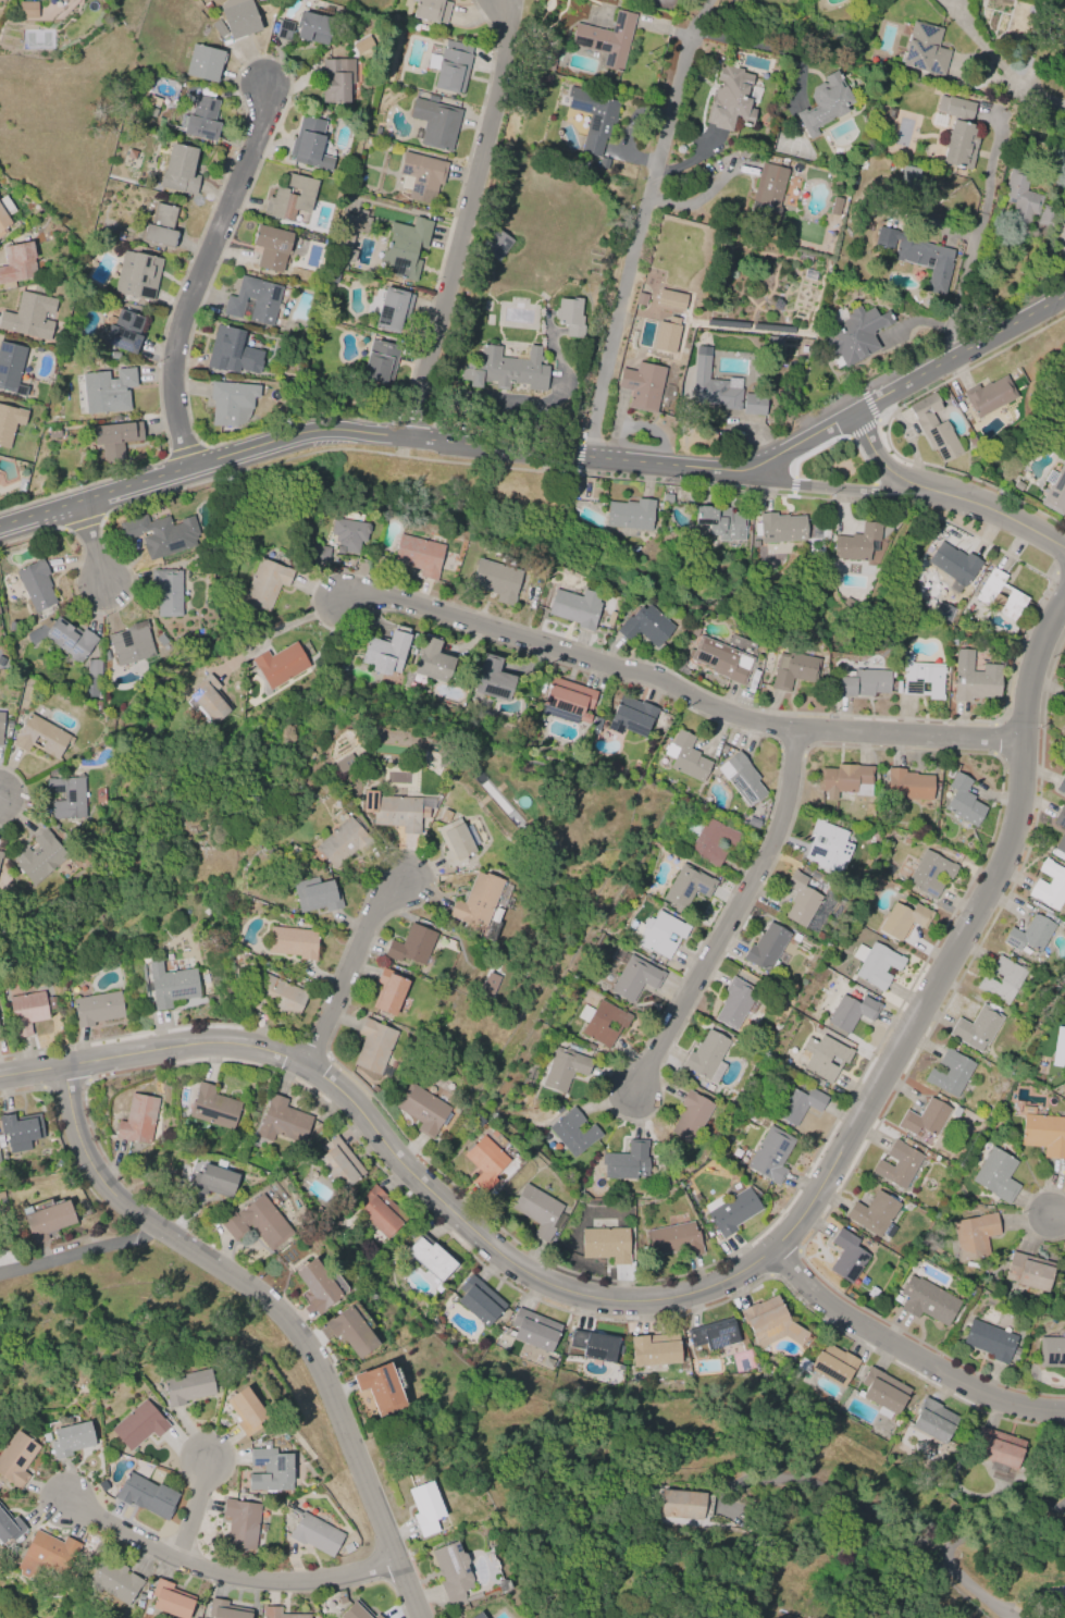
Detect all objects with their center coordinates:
building: (27, 9)
building: (431, 10)
building: (238, 17)
building: (313, 27)
building: (284, 29)
building: (1062, 35)
building: (606, 39)
road: (980, 44)
road: (770, 50)
building: (925, 50)
building: (203, 62)
building: (451, 66)
building: (337, 79)
road: (1038, 94)
building: (730, 98)
building: (153, 100)
building: (825, 103)
building: (955, 108)
building: (889, 113)
building: (593, 116)
building: (201, 119)
building: (435, 123)
building: (309, 145)
building: (958, 146)
building: (604, 163)
building: (179, 170)
building: (421, 176)
building: (767, 190)
building: (290, 197)
building: (1019, 201)
building: (4, 213)
building: (1045, 215)
road: (468, 222)
building: (160, 225)
road: (645, 230)
building: (351, 234)
building: (495, 245)
building: (271, 247)
building: (405, 248)
road: (968, 249)
building: (918, 255)
building: (16, 264)
building: (137, 274)
road: (198, 274)
building: (640, 299)
building: (253, 301)
building: (670, 301)
building: (393, 310)
building: (29, 316)
building: (570, 317)
building: (123, 331)
building: (853, 333)
building: (666, 335)
building: (232, 351)
building: (379, 363)
building: (11, 368)
building: (506, 369)
building: (711, 384)
building: (642, 386)
building: (103, 391)
building: (989, 396)
building: (231, 403)
building: (754, 405)
building: (9, 423)
building: (933, 428)
building: (1063, 433)
building: (113, 439)
road: (545, 459)
road: (901, 475)
road: (864, 489)
building: (1055, 490)
building: (667, 498)
building: (630, 516)
building: (720, 521)
road: (1019, 523)
building: (780, 528)
building: (160, 534)
building: (348, 534)
building: (857, 543)
road: (92, 545)
building: (320, 554)
building: (418, 555)
building: (953, 563)
building: (495, 580)
building: (265, 584)
building: (36, 585)
building: (166, 592)
building: (1000, 595)
building: (575, 607)
building: (610, 618)
building: (644, 626)
road: (280, 629)
building: (63, 637)
building: (132, 643)
building: (384, 653)
building: (432, 659)
building: (721, 659)
building: (281, 665)
building: (793, 669)
building: (92, 677)
building: (492, 678)
building: (921, 678)
building: (974, 678)
building: (753, 681)
building: (863, 683)
road: (681, 690)
building: (569, 699)
building: (210, 700)
building: (1064, 703)
building: (630, 716)
building: (1, 725)
building: (1064, 732)
building: (40, 736)
building: (685, 756)
building: (345, 765)
building: (740, 777)
building: (845, 780)
building: (907, 785)
building: (1061, 786)
road: (0, 798)
building: (67, 798)
building: (963, 801)
building: (395, 811)
building: (753, 823)
building: (1061, 838)
building: (710, 840)
building: (457, 841)
building: (339, 843)
building: (827, 847)
building: (1, 854)
building: (39, 857)
building: (929, 874)
building: (1050, 885)
building: (686, 886)
building: (315, 894)
building: (800, 900)
building: (475, 903)
road: (729, 917)
building: (903, 919)
building: (660, 934)
building: (1029, 936)
building: (293, 941)
building: (412, 946)
building: (766, 947)
building: (876, 963)
road: (350, 967)
building: (635, 977)
building: (1003, 980)
building: (171, 984)
building: (488, 985)
building: (388, 991)
building: (277, 997)
building: (733, 1003)
building: (97, 1009)
building: (25, 1011)
building: (851, 1012)
building: (602, 1022)
building: (976, 1028)
building: (373, 1046)
building: (1058, 1048)
building: (707, 1057)
building: (825, 1057)
building: (565, 1069)
building: (950, 1073)
building: (798, 1104)
building: (212, 1108)
building: (423, 1109)
building: (690, 1115)
building: (924, 1117)
building: (138, 1119)
building: (282, 1121)
building: (20, 1131)
building: (572, 1132)
building: (1044, 1135)
building: (771, 1154)
building: (626, 1161)
building: (485, 1162)
building: (897, 1163)
building: (337, 1164)
building: (995, 1174)
building: (212, 1181)
building: (537, 1210)
building: (731, 1211)
building: (381, 1212)
building: (875, 1213)
road: (1057, 1218)
building: (46, 1220)
building: (257, 1222)
building: (974, 1236)
building: (673, 1239)
building: (606, 1244)
road: (78, 1250)
building: (846, 1257)
building: (430, 1259)
building: (1028, 1271)
building: (317, 1285)
road: (708, 1292)
building: (927, 1300)
building: (479, 1301)
road: (277, 1310)
building: (771, 1323)
building: (534, 1330)
building: (351, 1332)
building: (714, 1334)
building: (989, 1341)
building: (594, 1345)
building: (654, 1349)
building: (1052, 1351)
road: (909, 1356)
building: (827, 1364)
building: (379, 1385)
building: (186, 1386)
building: (882, 1392)
building: (366, 1399)
building: (245, 1410)
building: (933, 1420)
building: (138, 1425)
building: (71, 1438)
building: (999, 1453)
building: (15, 1458)
building: (269, 1470)
road: (832, 1493)
building: (146, 1495)
road: (194, 1500)
building: (685, 1504)
building: (425, 1508)
building: (240, 1523)
building: (9, 1527)
road: (993, 1528)
building: (314, 1533)
building: (44, 1559)
road: (213, 1573)
building: (453, 1573)
building: (114, 1581)
building: (170, 1600)
building: (224, 1609)
building: (356, 1611)
building: (280, 1614)
building: (1061, 1614)
building: (475, 1616)

